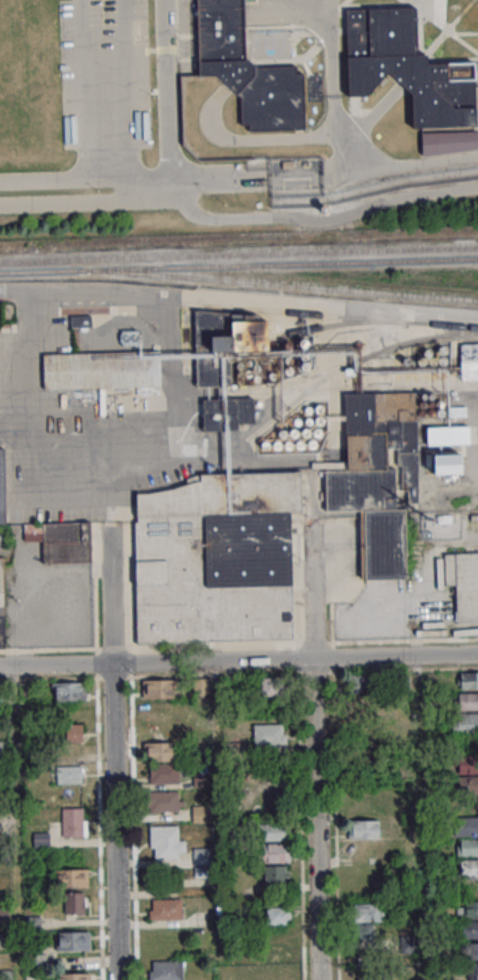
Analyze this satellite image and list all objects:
road: (335, 8)
road: (441, 17)
road: (441, 26)
road: (448, 28)
road: (460, 34)
road: (329, 53)
building: (405, 69)
building: (245, 70)
parking lot: (103, 73)
road: (82, 89)
road: (122, 101)
road: (289, 136)
building: (446, 143)
road: (373, 172)
road: (85, 177)
road: (219, 179)
road: (88, 203)
building: (322, 213)
road: (226, 217)
railway: (238, 253)
railway: (239, 265)
railway: (277, 283)
railway: (328, 314)
railway: (341, 322)
building: (243, 337)
building: (468, 360)
railway: (351, 362)
road: (24, 366)
building: (101, 370)
railway: (311, 375)
building: (244, 409)
building: (213, 415)
building: (449, 435)
building: (448, 464)
building: (378, 477)
building: (2, 485)
building: (61, 540)
building: (215, 558)
building: (463, 583)
road: (312, 588)
road: (110, 594)
building: (1, 601)
road: (238, 659)
building: (467, 679)
building: (358, 683)
building: (200, 685)
building: (272, 686)
building: (158, 688)
building: (69, 691)
building: (467, 700)
building: (166, 709)
building: (465, 722)
building: (71, 732)
building: (269, 733)
building: (160, 751)
building: (69, 773)
building: (163, 773)
building: (468, 774)
building: (165, 801)
building: (201, 813)
road: (315, 819)
building: (72, 821)
road: (113, 821)
building: (466, 825)
building: (363, 829)
building: (273, 831)
building: (41, 839)
building: (166, 842)
building: (466, 846)
building: (274, 852)
building: (202, 861)
building: (467, 866)
building: (276, 874)
building: (70, 878)
building: (74, 902)
building: (165, 908)
building: (468, 909)
building: (5, 914)
building: (277, 915)
building: (469, 929)
building: (365, 939)
building: (74, 940)
building: (473, 950)
building: (277, 954)
building: (38, 960)
building: (165, 970)
building: (472, 970)
building: (73, 976)

